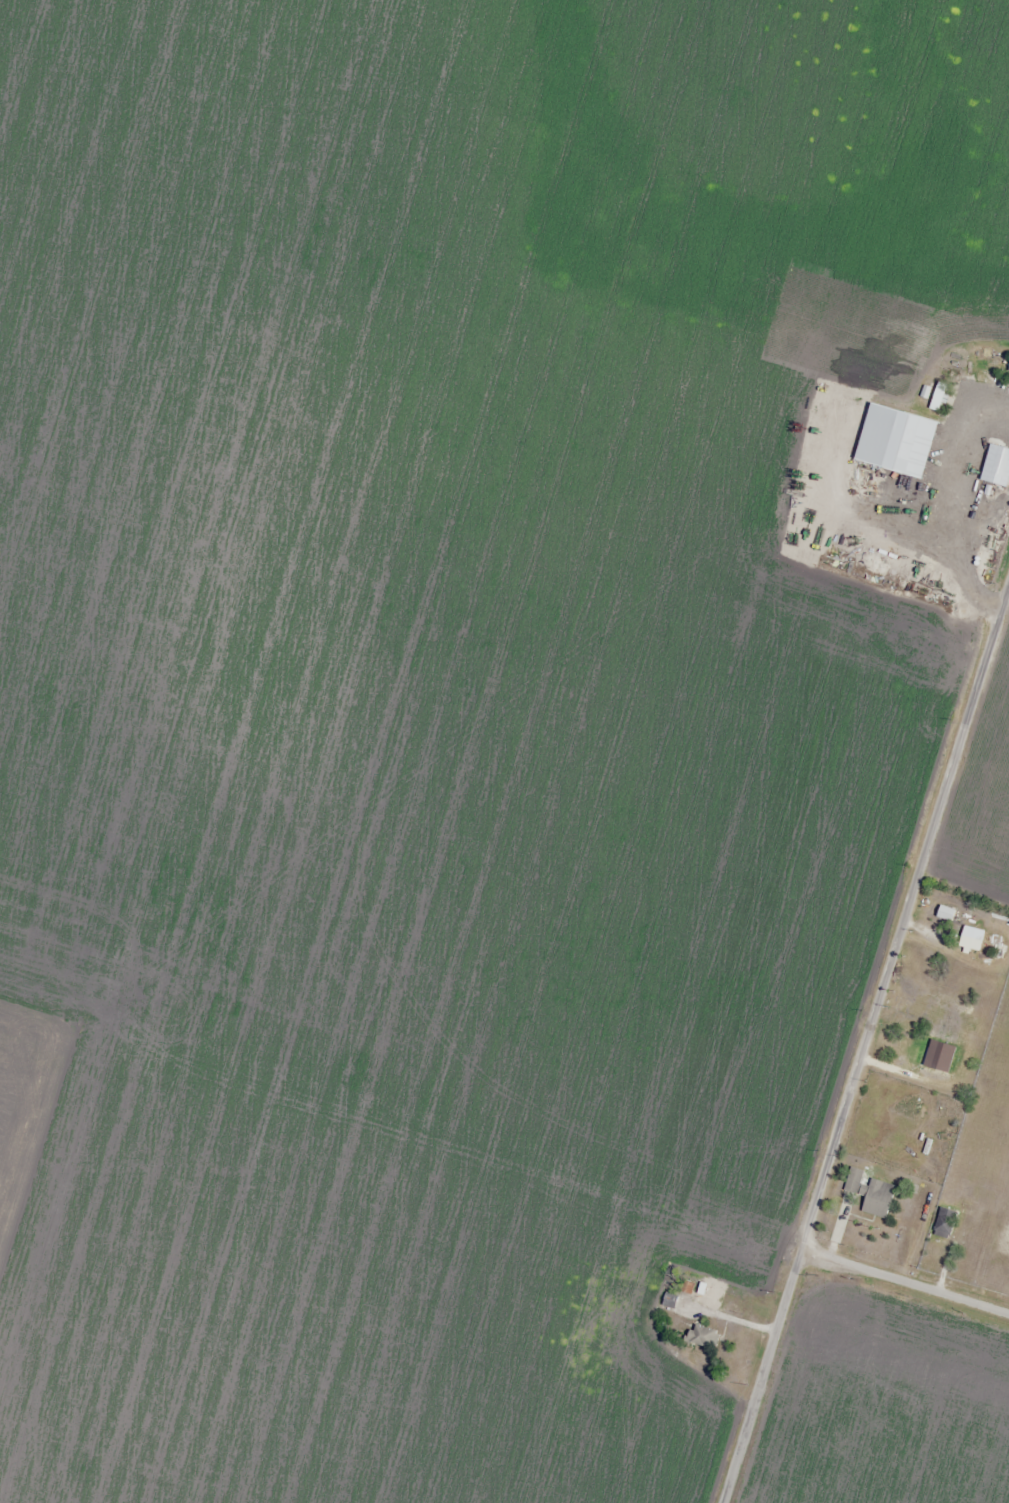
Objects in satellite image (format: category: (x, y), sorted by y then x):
building: (1007, 365)
building: (935, 397)
building: (900, 441)
building: (994, 466)
building: (968, 938)
road: (873, 1052)
building: (874, 1198)
building: (943, 1223)
road: (918, 1293)
crop: (887, 1411)

